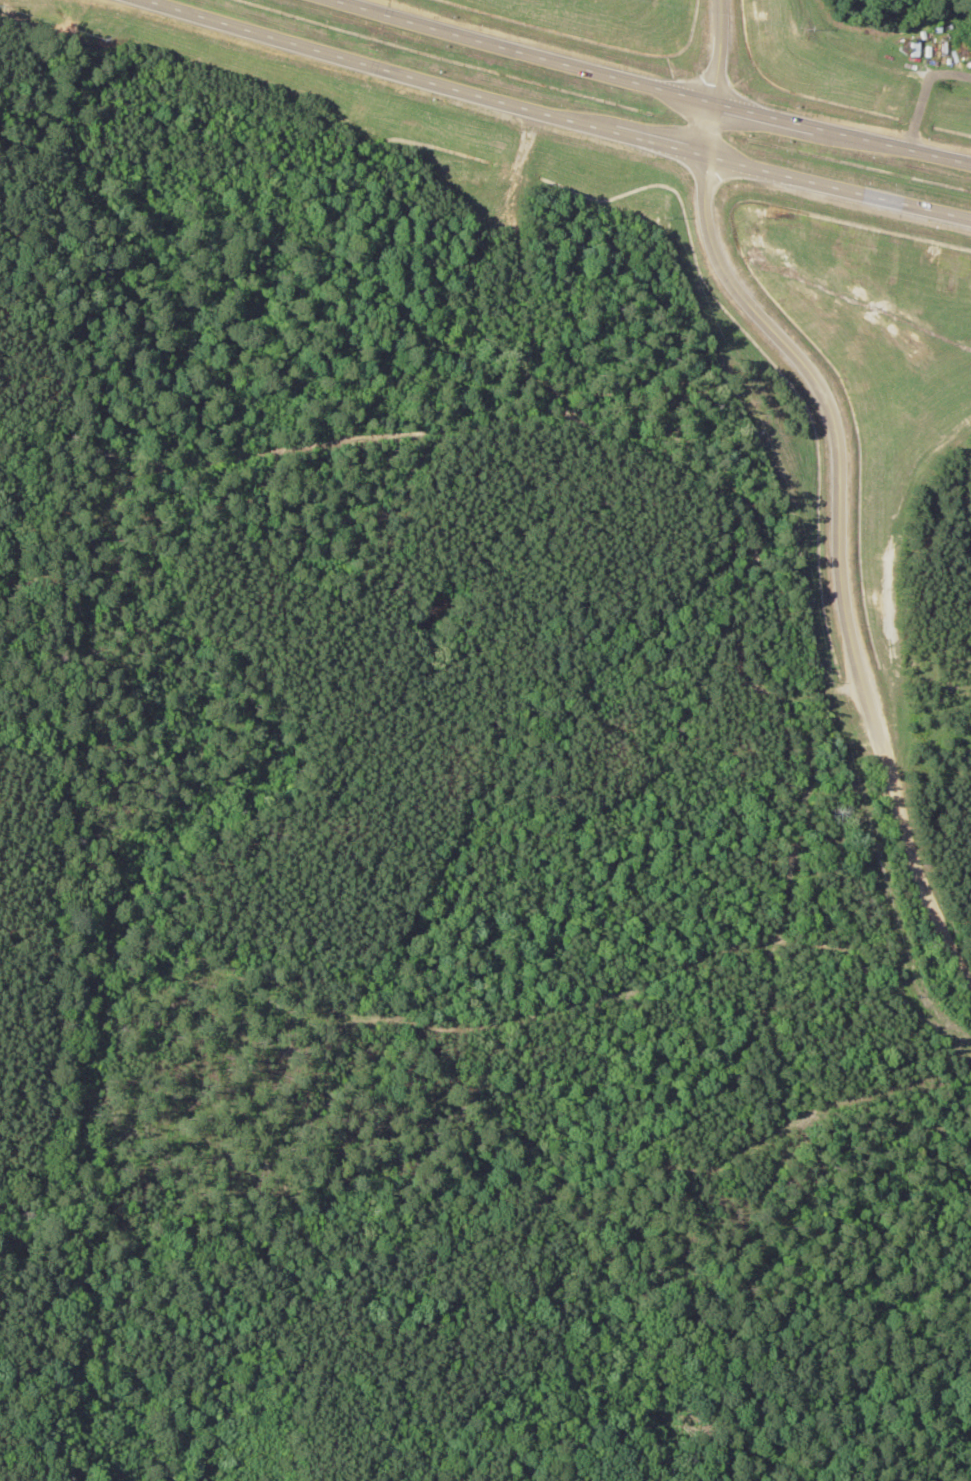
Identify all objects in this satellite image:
road: (715, 77)
road: (657, 88)
road: (559, 116)
road: (835, 564)
road: (584, 984)

